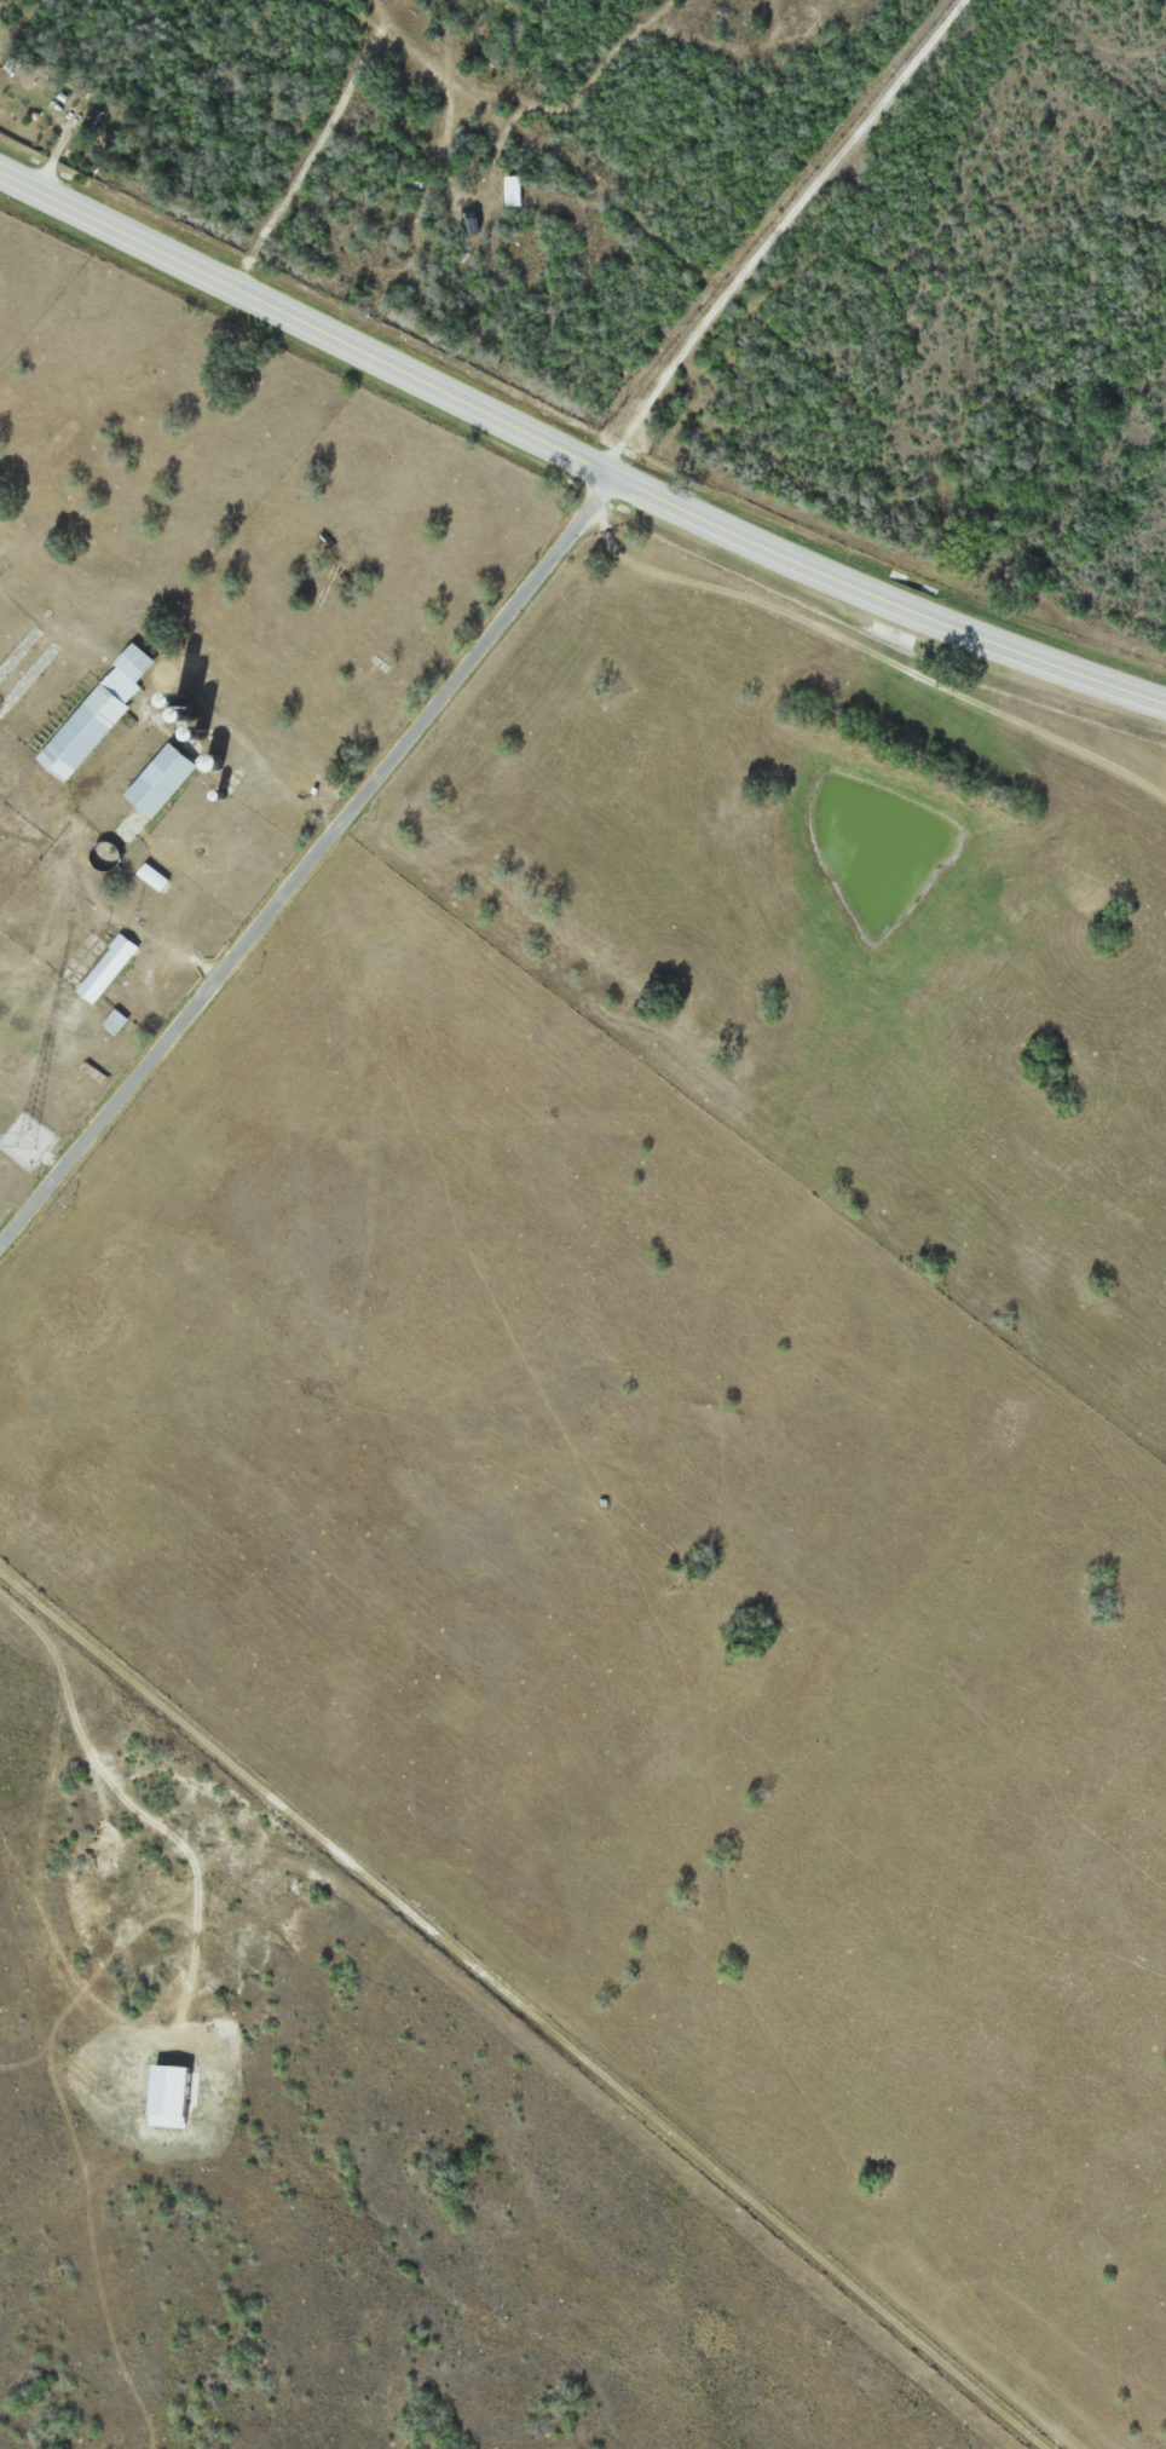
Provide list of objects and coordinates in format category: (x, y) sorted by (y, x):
building: (467, 225)
road: (575, 453)
building: (92, 714)
building: (155, 780)
building: (103, 854)
road: (307, 864)
building: (149, 876)
building: (103, 968)
building: (111, 1021)
road: (388, 1885)
road: (818, 2248)
road: (959, 2368)

